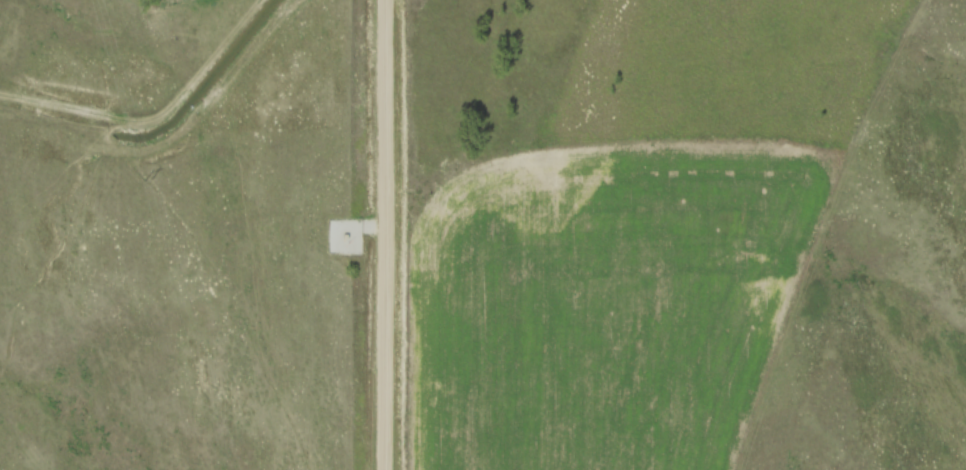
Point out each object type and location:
power tower: (148, 178)
road: (385, 234)

